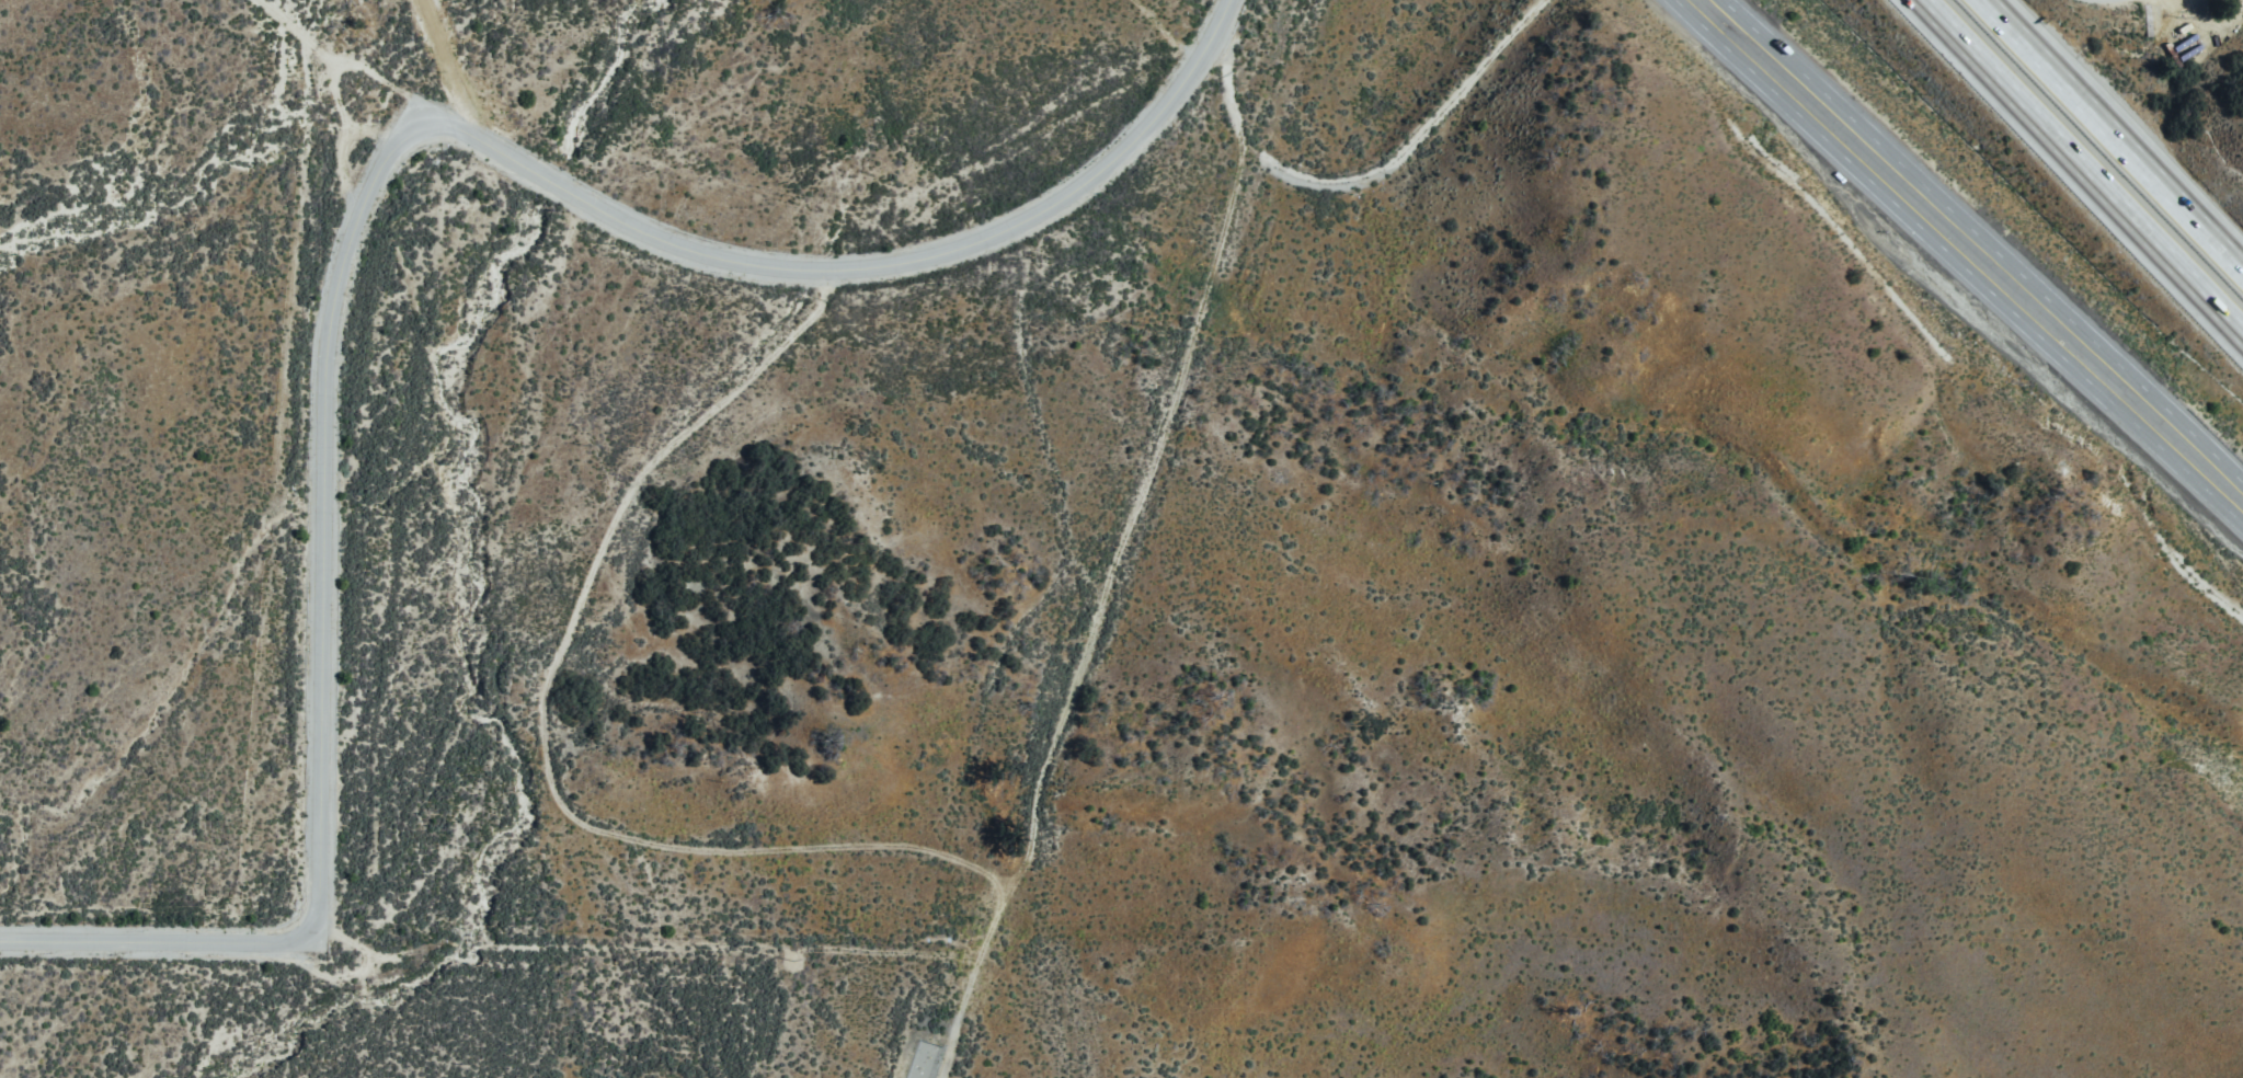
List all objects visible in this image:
road: (344, 61)
road: (333, 95)
road: (2114, 134)
road: (344, 146)
road: (2082, 167)
road: (1365, 179)
road: (369, 211)
road: (1985, 238)
road: (1959, 262)
road: (1101, 616)
road: (546, 715)

